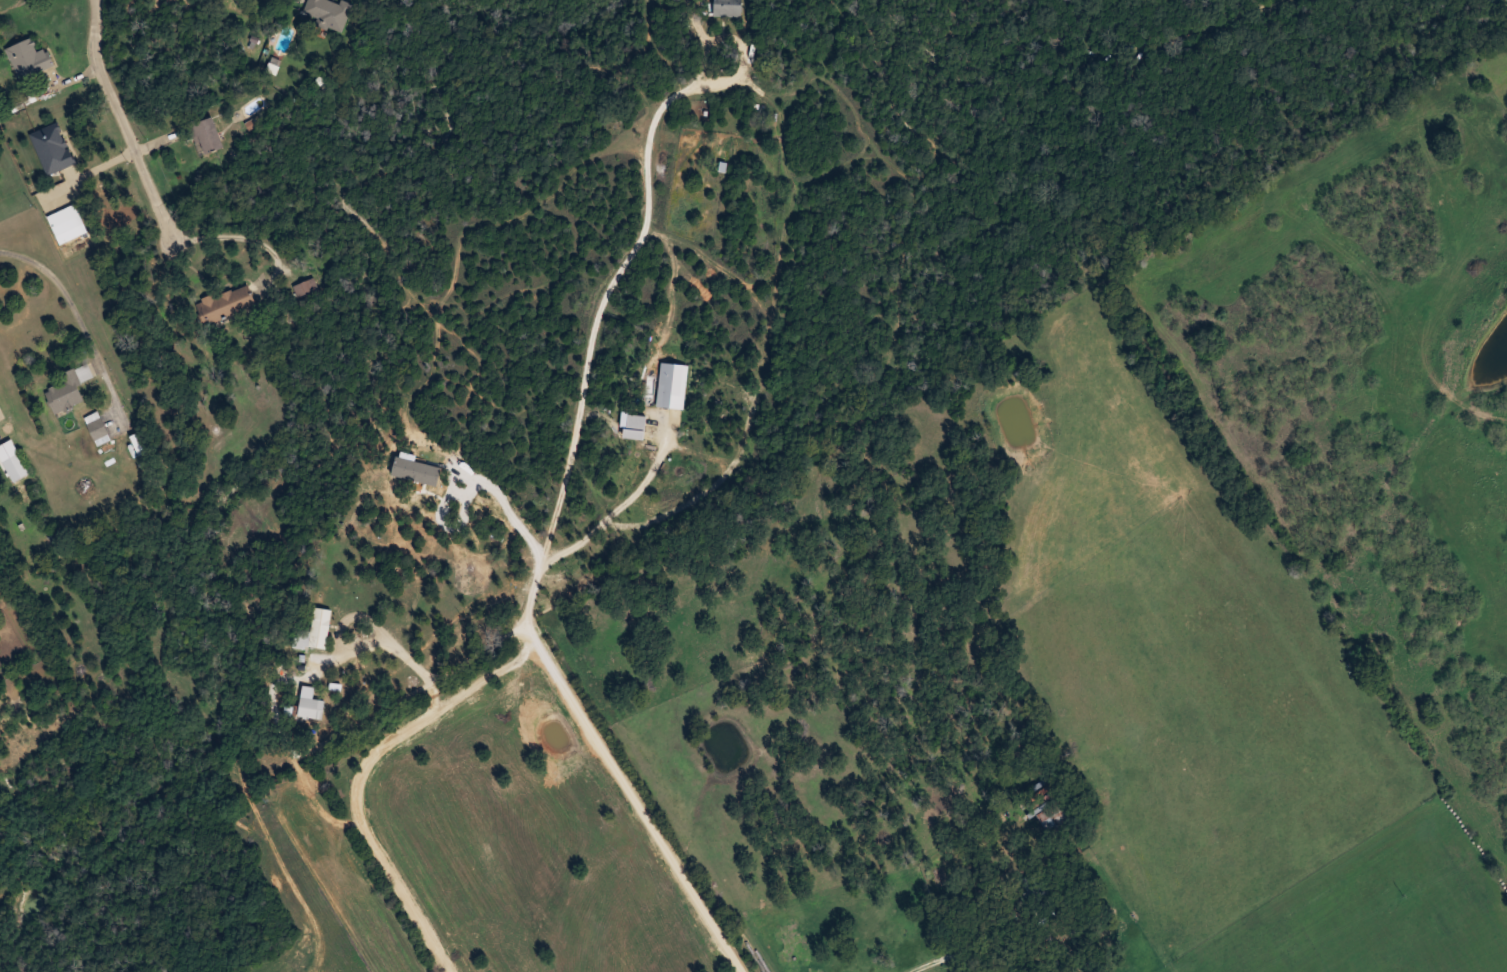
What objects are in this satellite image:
building: (727, 7)
building: (328, 13)
building: (29, 58)
road: (129, 120)
building: (207, 135)
building: (305, 287)
building: (225, 304)
building: (68, 388)
building: (97, 428)
building: (15, 467)
building: (320, 627)
building: (310, 703)
building: (1051, 812)
road: (916, 862)

